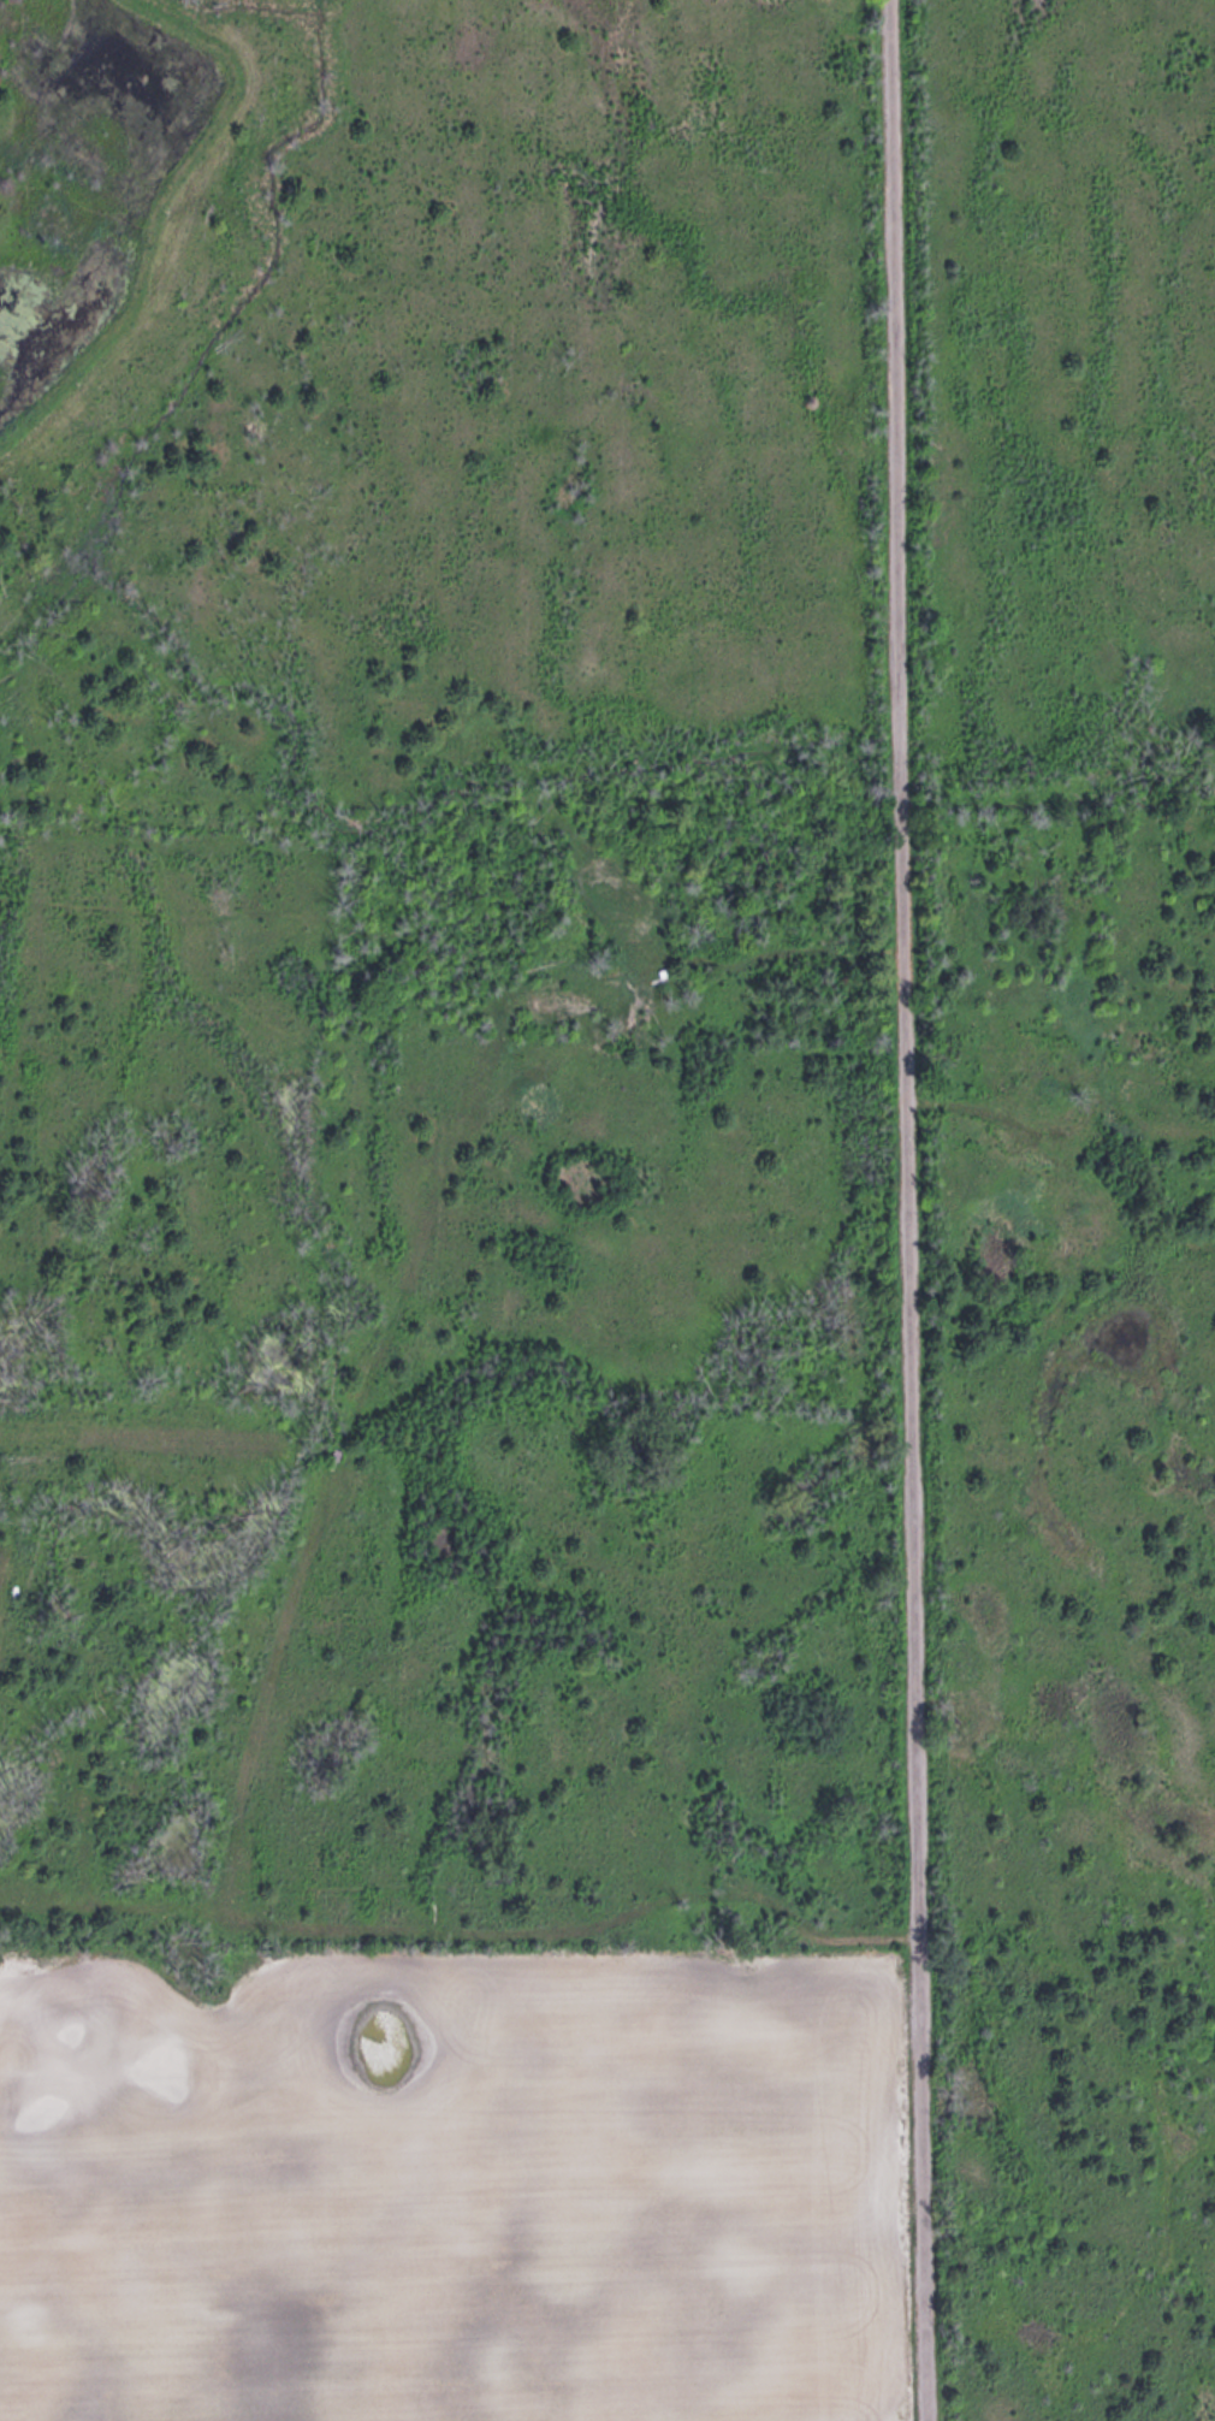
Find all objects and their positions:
road: (900, 1210)

